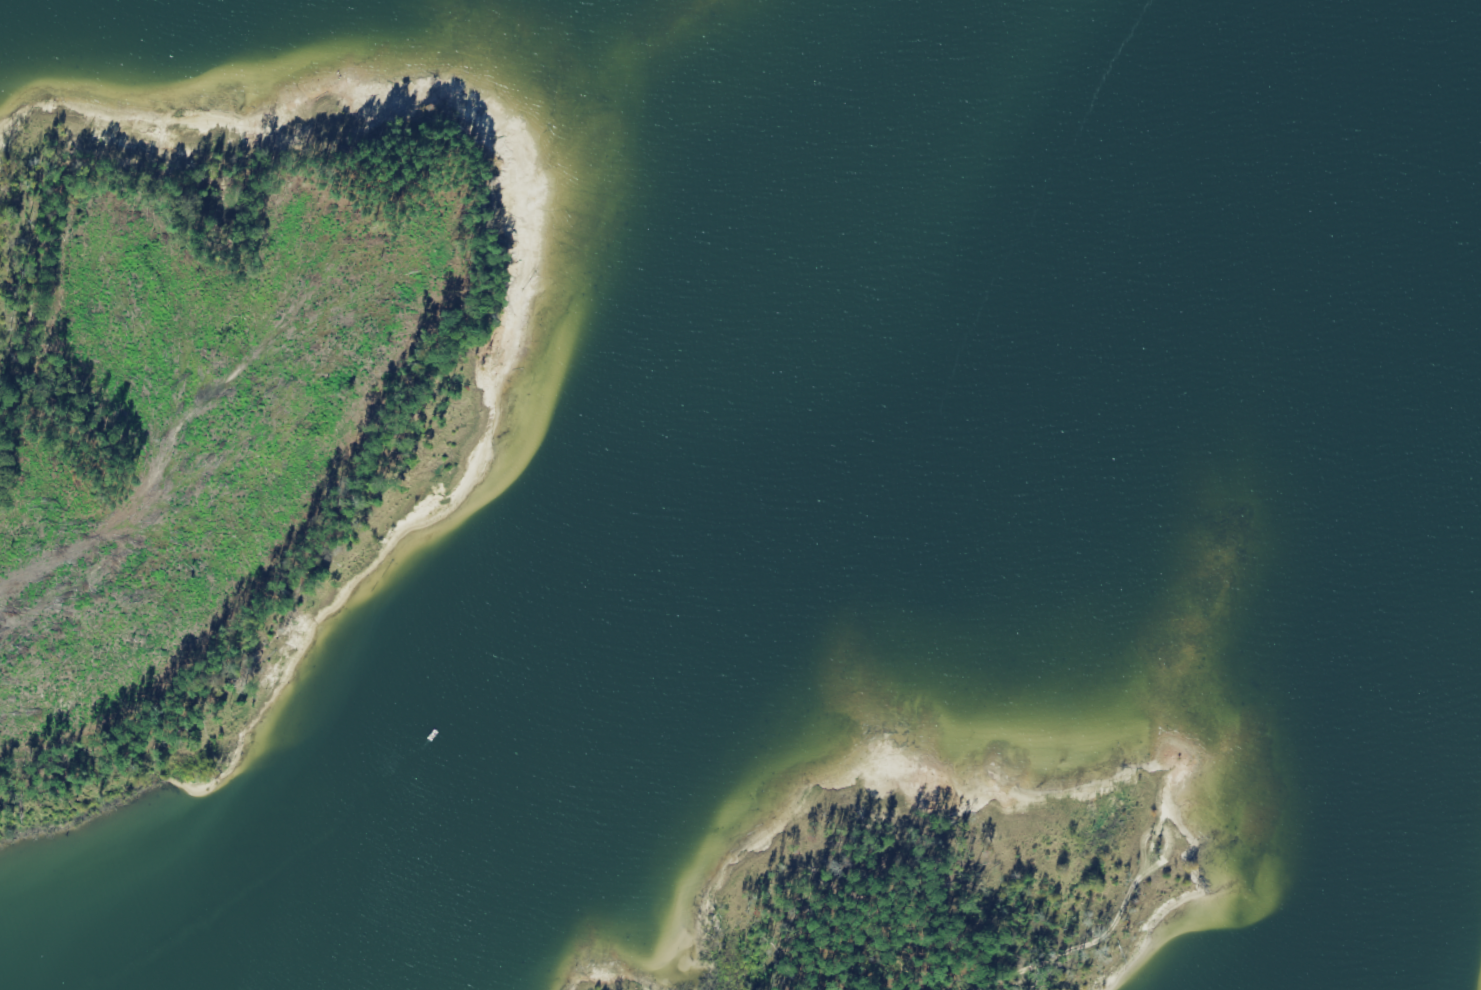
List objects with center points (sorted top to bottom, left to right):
road: (1141, 885)

